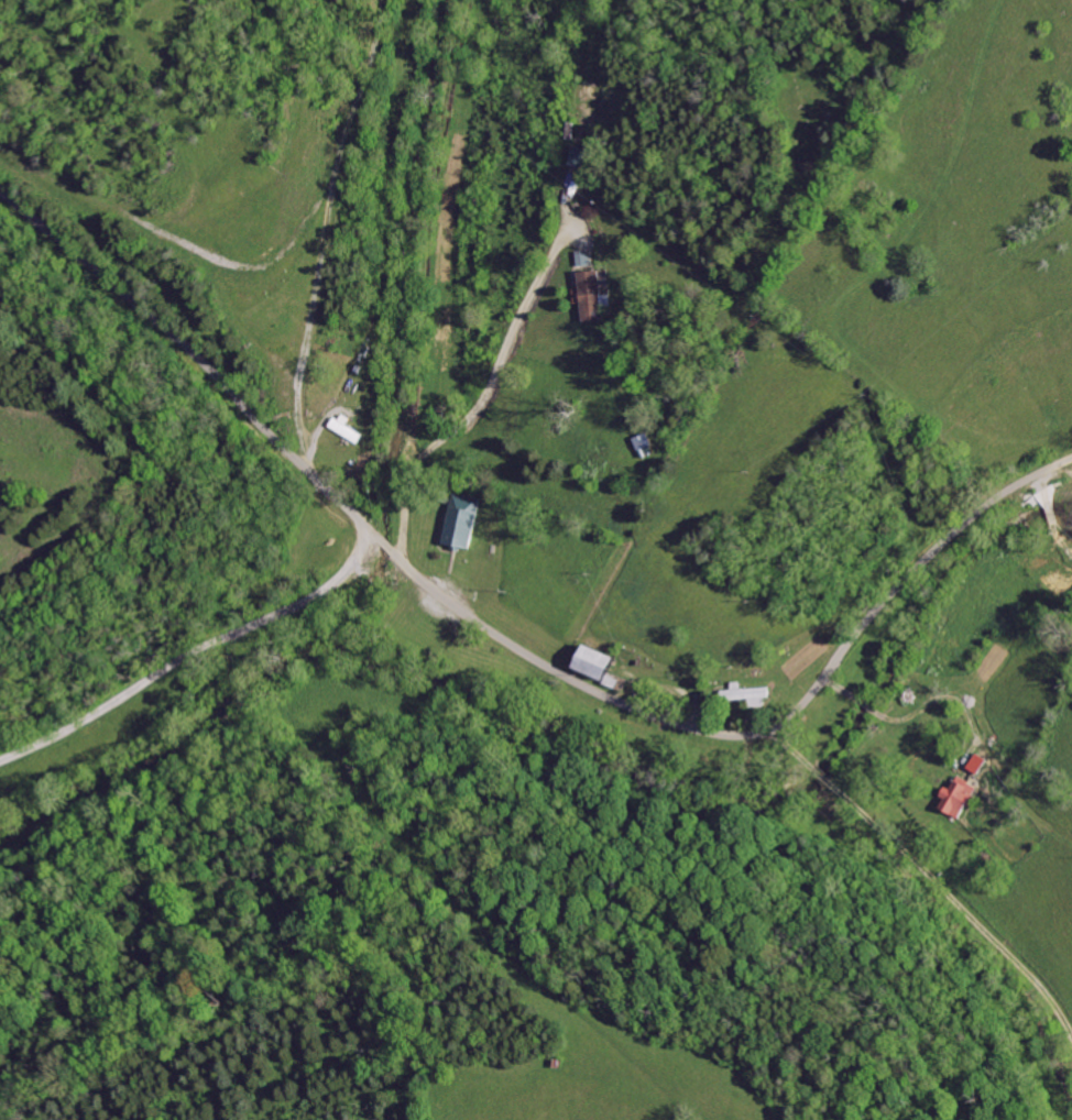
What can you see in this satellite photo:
building: (572, 131)
road: (262, 265)
building: (589, 295)
road: (307, 319)
road: (492, 385)
building: (340, 430)
road: (309, 444)
building: (459, 521)
road: (514, 647)
road: (199, 658)
building: (586, 661)
building: (605, 681)
building: (741, 694)
road: (925, 710)
building: (975, 761)
building: (954, 799)
road: (931, 872)

